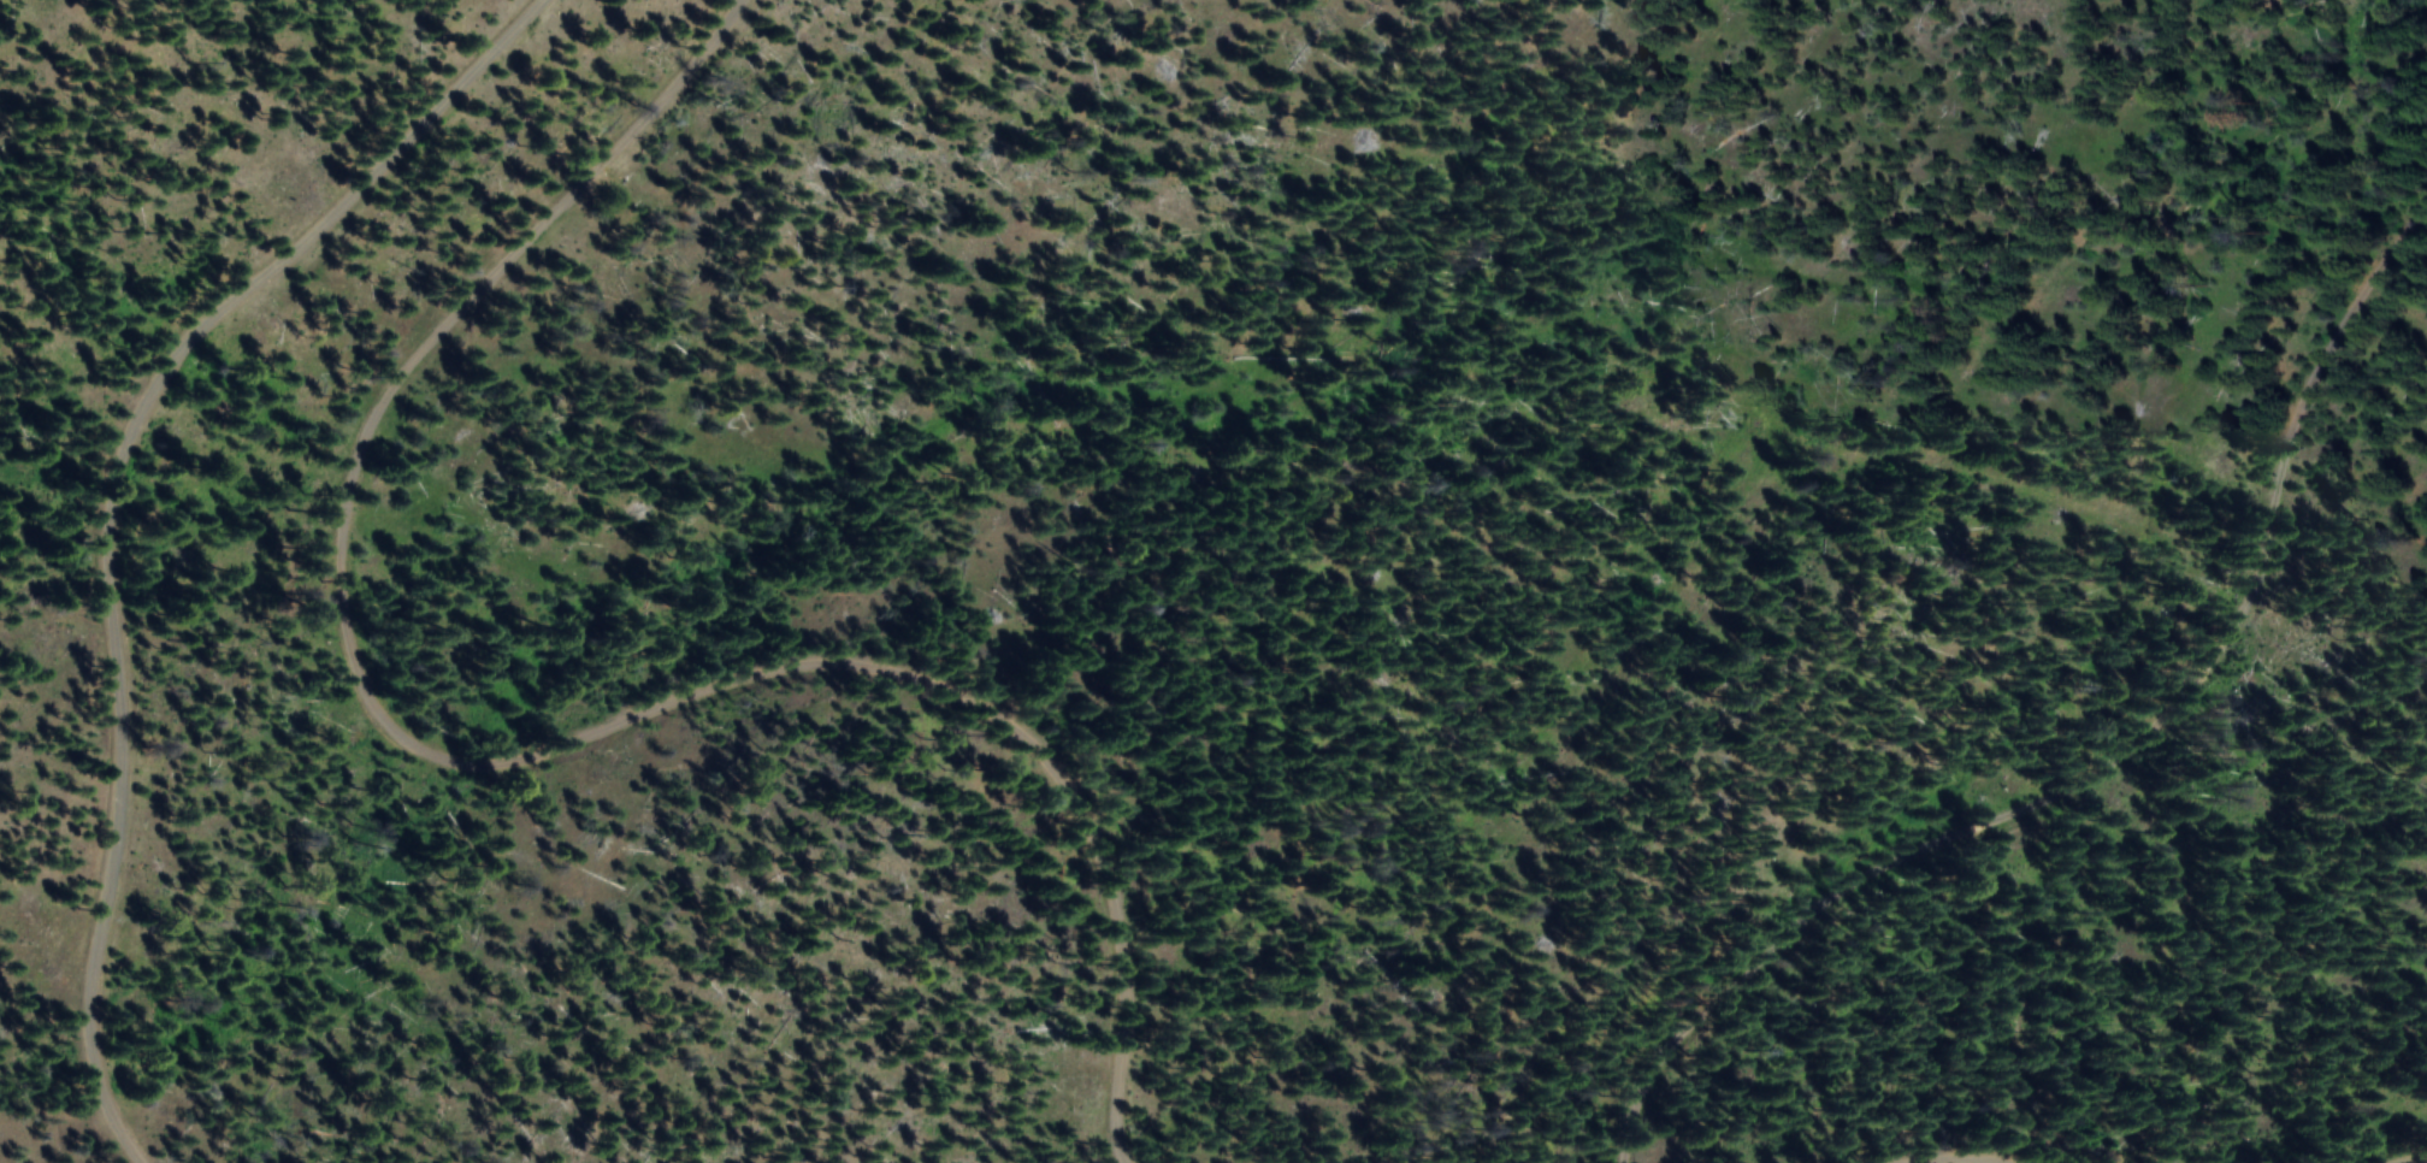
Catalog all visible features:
road: (134, 500)
road: (2108, 760)
road: (500, 761)
road: (1960, 1155)
road: (2411, 1158)

